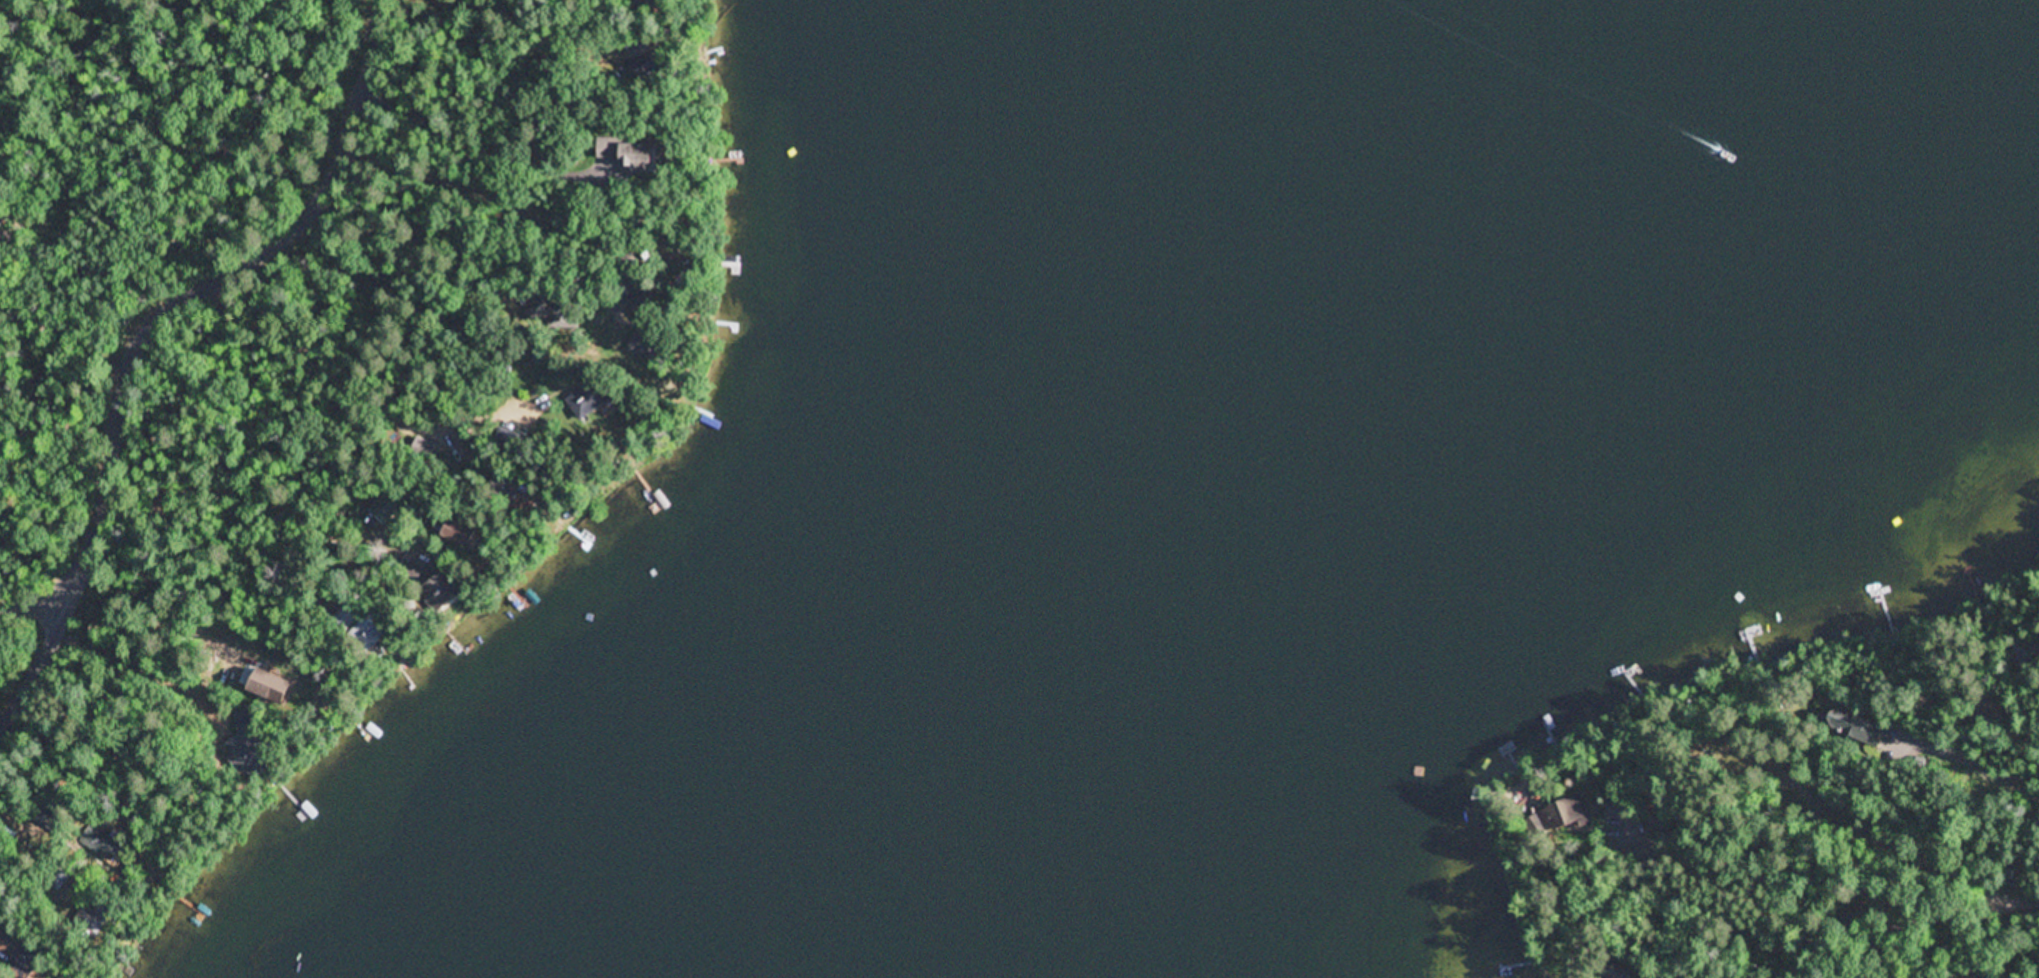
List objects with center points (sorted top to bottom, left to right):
building: (635, 51)
building: (609, 148)
building: (643, 158)
road: (145, 334)
building: (644, 345)
road: (364, 391)
building: (592, 398)
building: (425, 451)
building: (501, 483)
building: (464, 534)
building: (443, 588)
road: (36, 609)
building: (350, 614)
building: (374, 633)
building: (1855, 727)
building: (249, 756)
road: (1968, 762)
building: (1566, 815)
road: (1867, 829)
building: (101, 843)
building: (92, 922)
building: (7, 933)
road: (1797, 949)
building: (28, 962)

